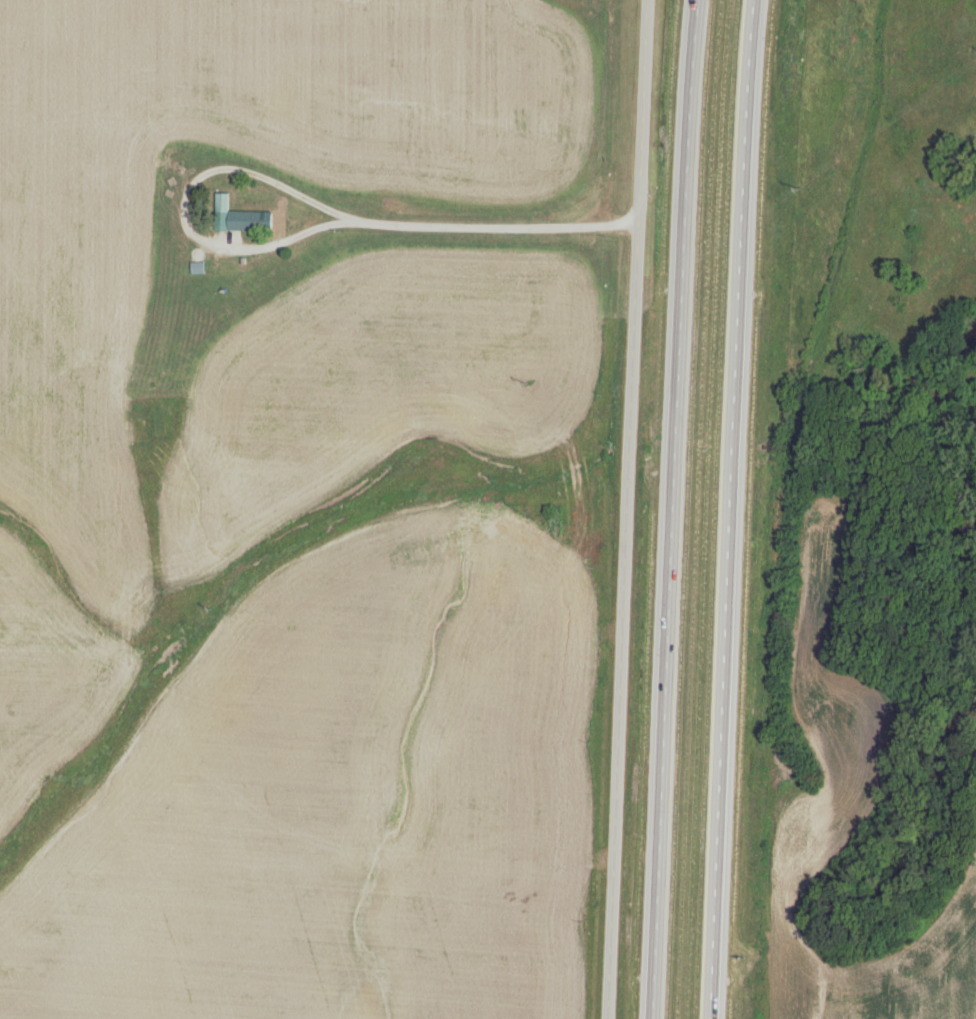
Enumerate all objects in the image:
road: (616, 117)
road: (179, 214)
building: (241, 218)
road: (470, 229)
building: (198, 268)
road: (674, 509)
road: (732, 509)
road: (595, 627)

